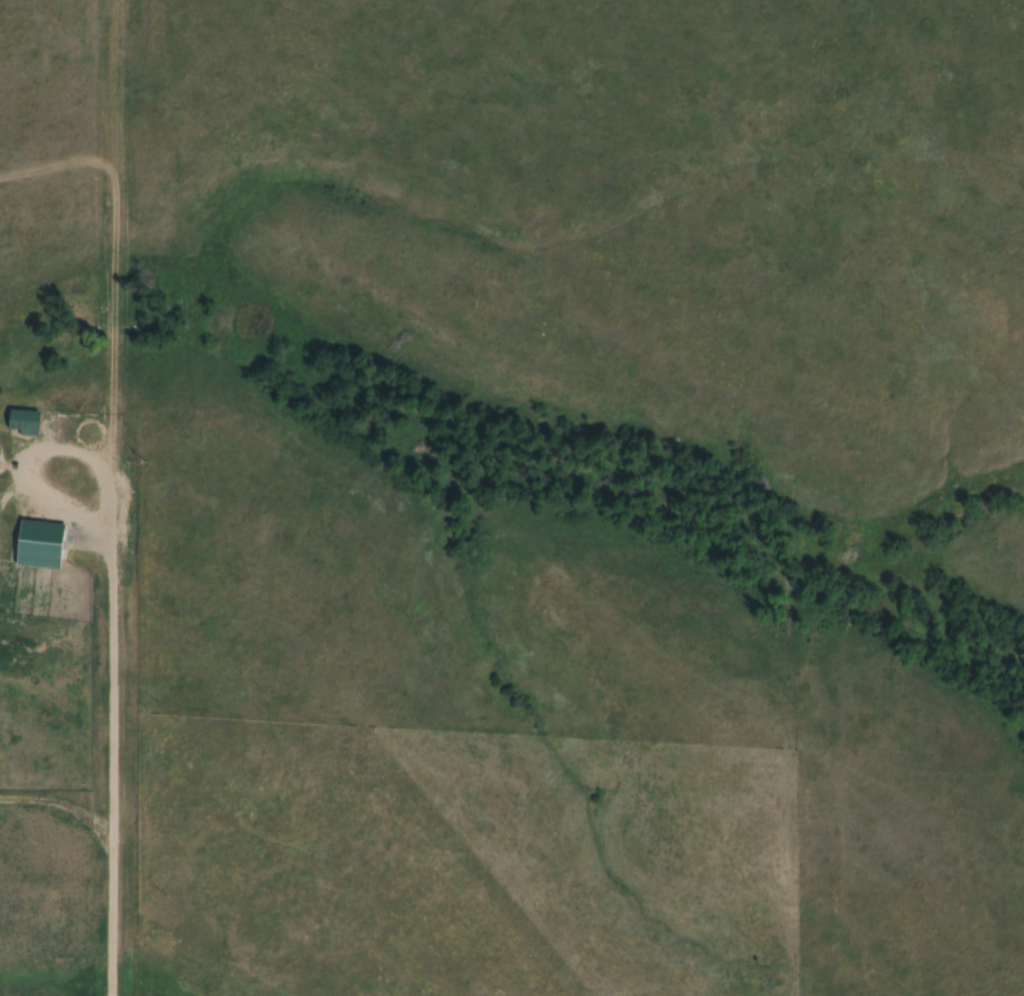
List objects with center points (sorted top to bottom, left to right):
building: (36, 544)
road: (112, 913)

